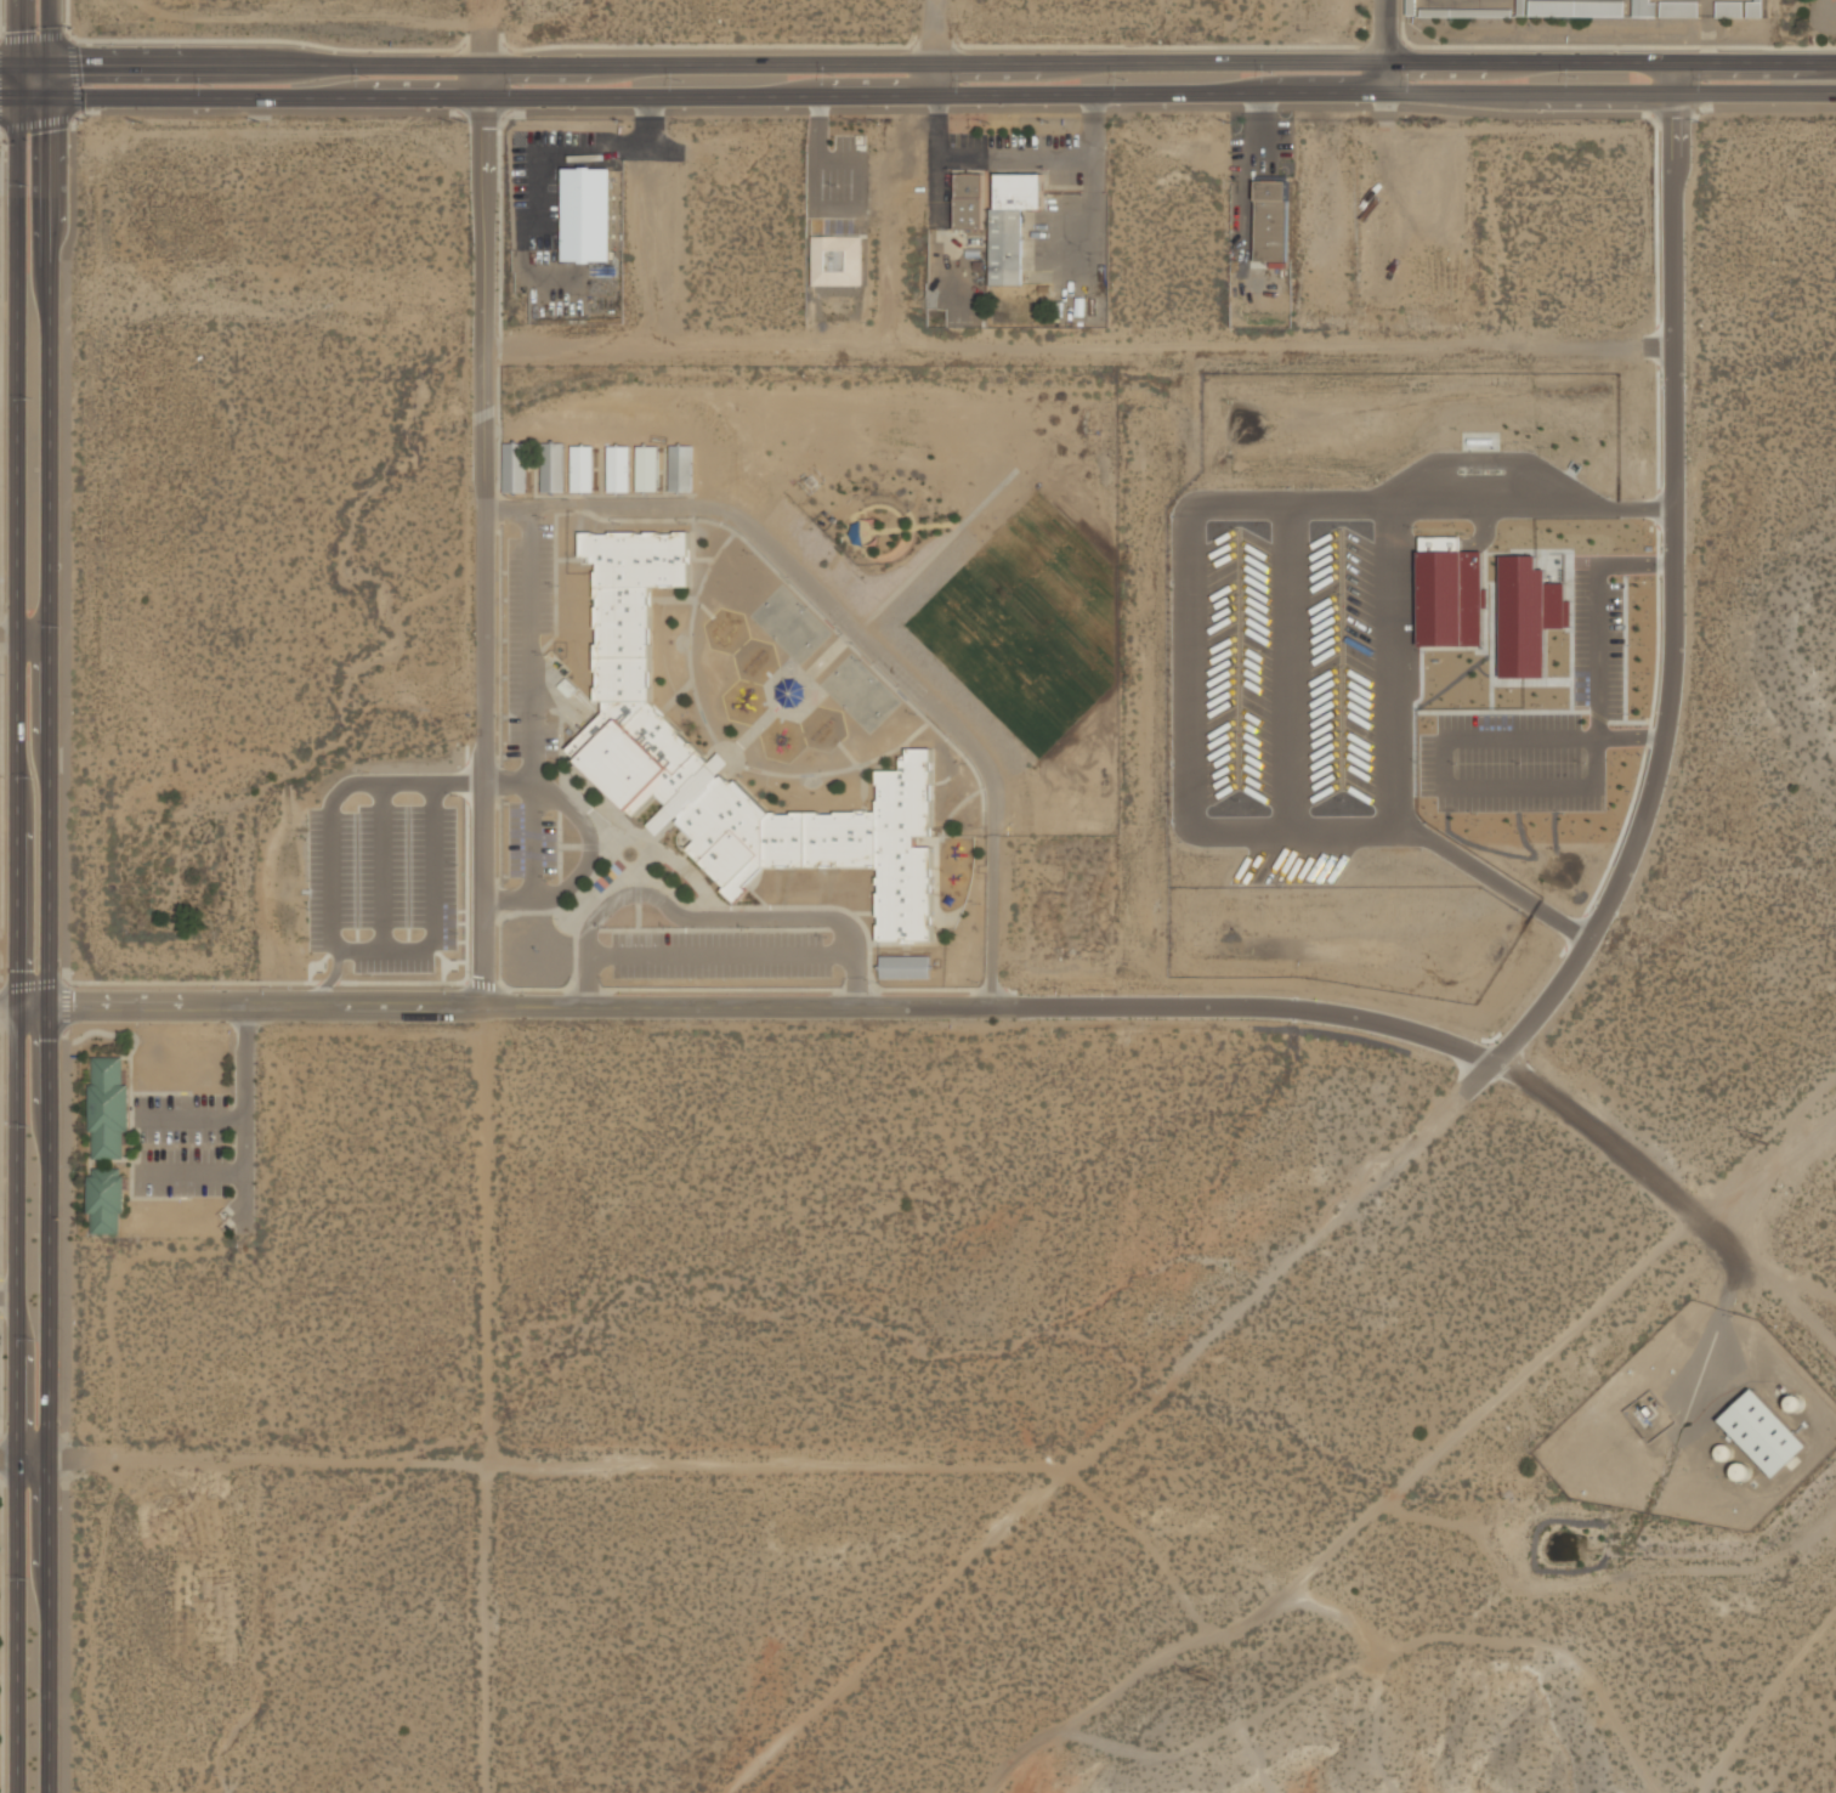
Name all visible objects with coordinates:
landfill: (1338, 4)
building: (1412, 6)
building: (1521, 6)
building: (1576, 7)
building: (1642, 7)
building: (1679, 7)
building: (1755, 7)
building: (1729, 9)
building: (1467, 11)
road: (1388, 28)
road: (18, 30)
road: (52, 30)
road: (483, 32)
road: (936, 32)
road: (931, 46)
road: (1752, 61)
traffic signals: (18, 63)
traffic signals: (53, 63)
road: (834, 63)
road: (1389, 73)
road: (73, 78)
road: (937, 79)
road: (17, 81)
road: (53, 81)
road: (834, 94)
road: (1752, 94)
traffic signals: (17, 101)
traffic signals: (53, 101)
road: (1259, 121)
road: (579, 148)
road: (69, 157)
road: (1013, 162)
building: (970, 199)
road: (821, 209)
road: (1084, 211)
building: (588, 214)
building: (1271, 220)
building: (1011, 222)
building: (838, 260)
road: (1077, 344)
building: (552, 465)
building: (516, 466)
building: (647, 466)
building: (582, 468)
building: (618, 468)
building: (680, 468)
road: (486, 536)
road: (1389, 553)
road: (1671, 581)
building: (1443, 595)
building: (1521, 613)
road: (7, 633)
parking lot: (1579, 637)
road: (1186, 641)
parking lot: (528, 644)
road: (528, 646)
road: (873, 646)
road: (1594, 647)
parking lot: (1611, 649)
parking lot: (1235, 666)
parking lot: (1338, 666)
road: (1286, 668)
parking lot: (1504, 723)
building: (634, 726)
parking lot: (1515, 762)
parking lot: (1426, 764)
road: (403, 784)
road: (1441, 785)
parking lot: (1515, 803)
road: (531, 841)
parking lot: (529, 842)
parking lot: (1288, 865)
road: (582, 866)
road: (381, 867)
road: (330, 883)
parking lot: (381, 884)
road: (435, 905)
road: (733, 916)
road: (13, 946)
road: (49, 946)
parking lot: (719, 955)
road: (720, 955)
building: (905, 966)
road: (586, 982)
road: (325, 985)
road: (987, 1006)
building: (107, 1107)
power tower: (1767, 1139)
building: (106, 1200)
building: (1769, 1432)
road: (22, 1460)
power tower: (1201, 1678)

